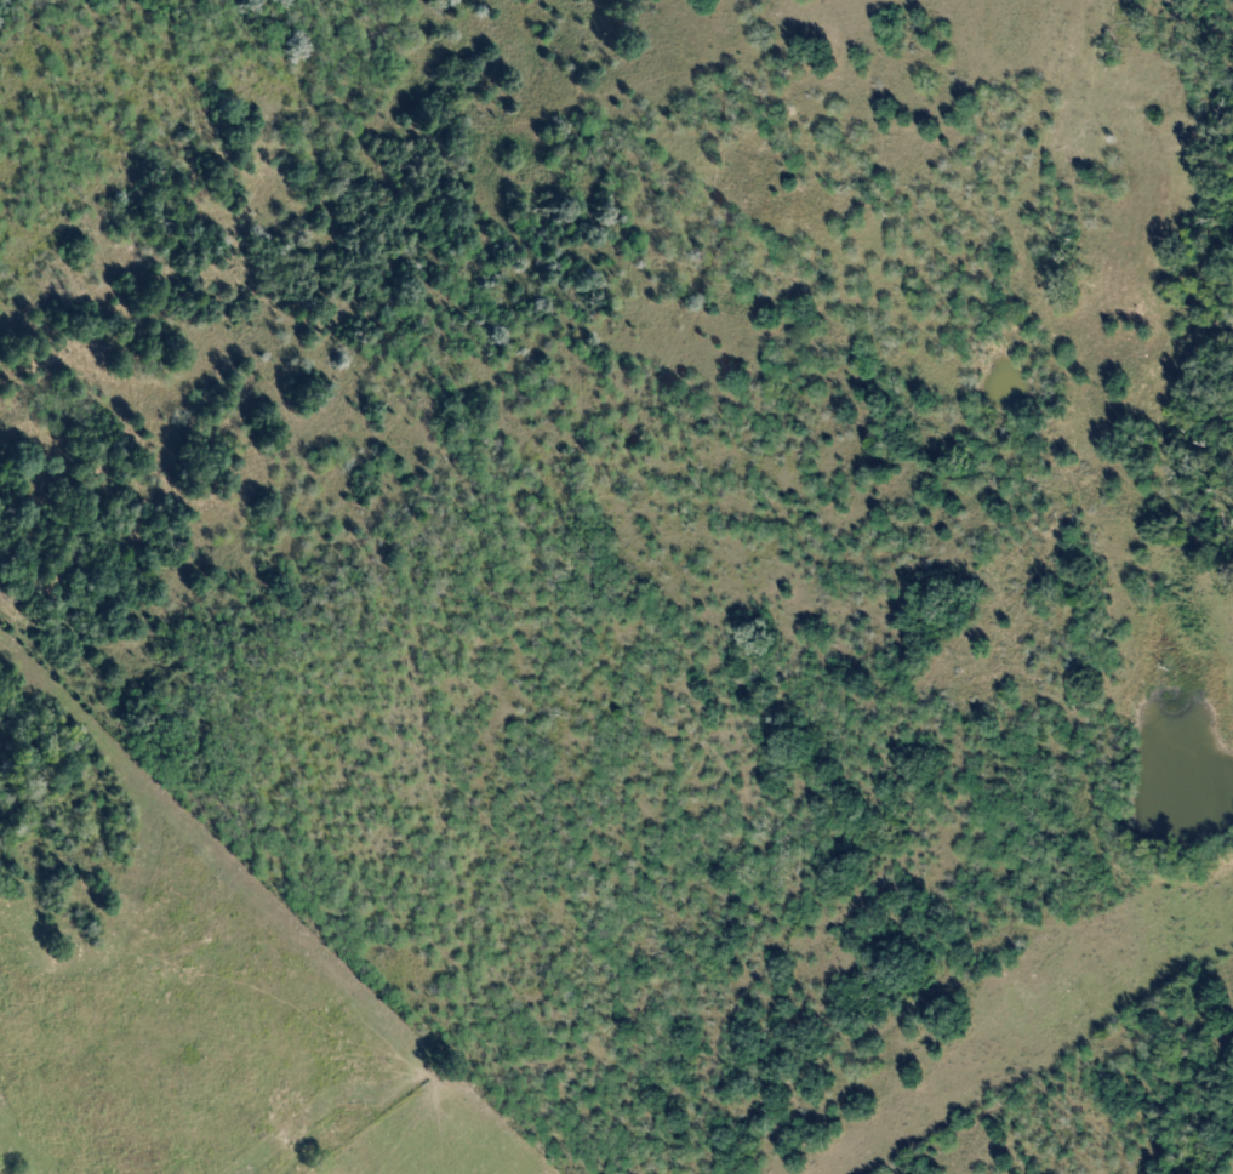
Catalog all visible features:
road: (443, 444)

